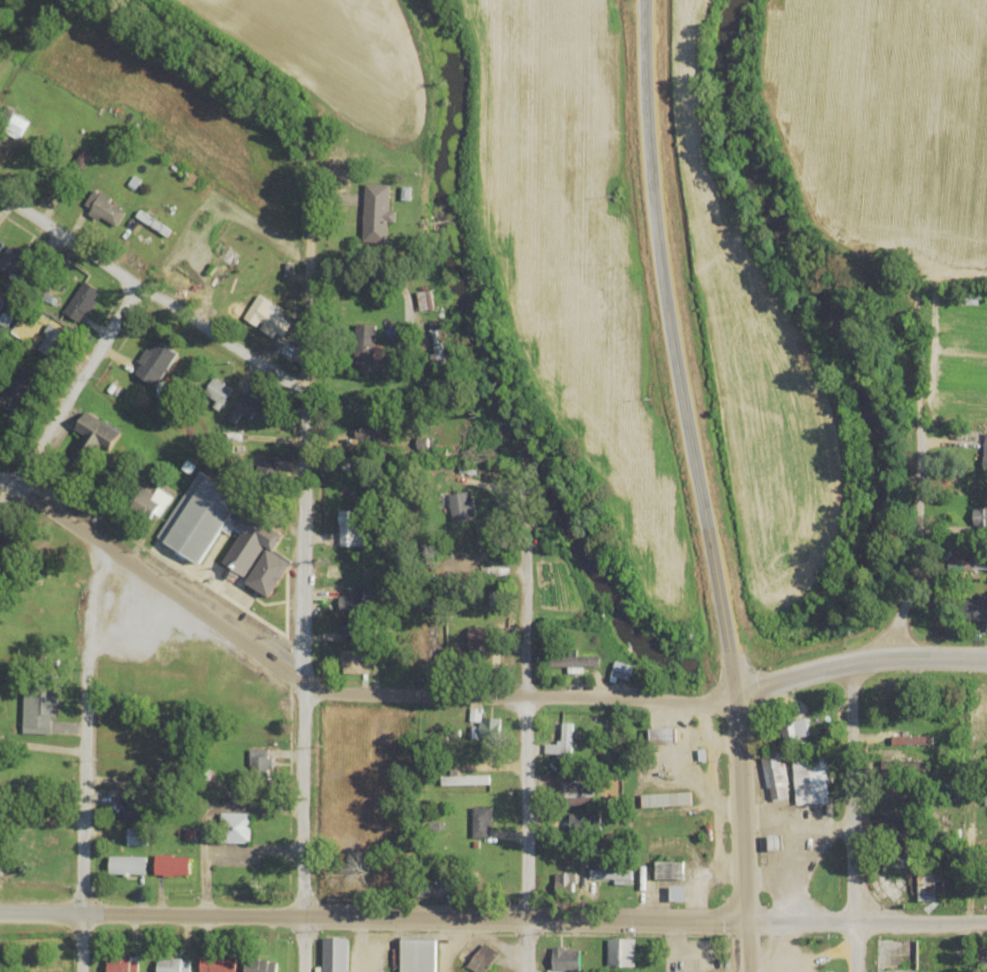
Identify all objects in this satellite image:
road: (21, 33)
road: (223, 58)
building: (18, 126)
building: (105, 209)
building: (377, 213)
road: (306, 257)
building: (196, 264)
building: (19, 266)
road: (150, 294)
building: (969, 298)
building: (426, 301)
building: (83, 302)
road: (662, 313)
building: (266, 316)
building: (439, 341)
building: (53, 342)
building: (365, 347)
building: (156, 362)
building: (18, 391)
building: (219, 392)
road: (68, 393)
building: (248, 410)
building: (378, 428)
building: (94, 443)
building: (986, 450)
building: (151, 503)
building: (463, 506)
building: (201, 516)
building: (981, 519)
road: (918, 523)
building: (258, 554)
building: (976, 563)
road: (150, 576)
building: (50, 584)
building: (352, 598)
building: (977, 609)
building: (350, 627)
building: (482, 638)
road: (733, 657)
building: (355, 661)
building: (575, 661)
road: (862, 663)
building: (623, 670)
road: (305, 680)
building: (120, 690)
building: (175, 690)
road: (522, 691)
building: (39, 711)
road: (526, 721)
building: (488, 725)
building: (794, 733)
building: (665, 735)
building: (912, 740)
building: (562, 742)
road: (83, 759)
building: (255, 763)
building: (776, 775)
building: (468, 779)
building: (812, 779)
building: (573, 793)
building: (666, 799)
building: (134, 806)
road: (741, 807)
road: (853, 819)
building: (898, 821)
building: (482, 822)
building: (237, 827)
building: (0, 835)
building: (138, 836)
building: (128, 865)
building: (173, 865)
building: (671, 870)
building: (621, 871)
building: (566, 882)
building: (930, 886)
building: (680, 893)
road: (371, 918)
road: (798, 922)
road: (920, 922)
road: (745, 947)
building: (621, 952)
building: (336, 954)
building: (420, 955)
building: (986, 958)
building: (484, 959)
building: (122, 964)
building: (219, 964)
building: (171, 965)
building: (261, 965)

